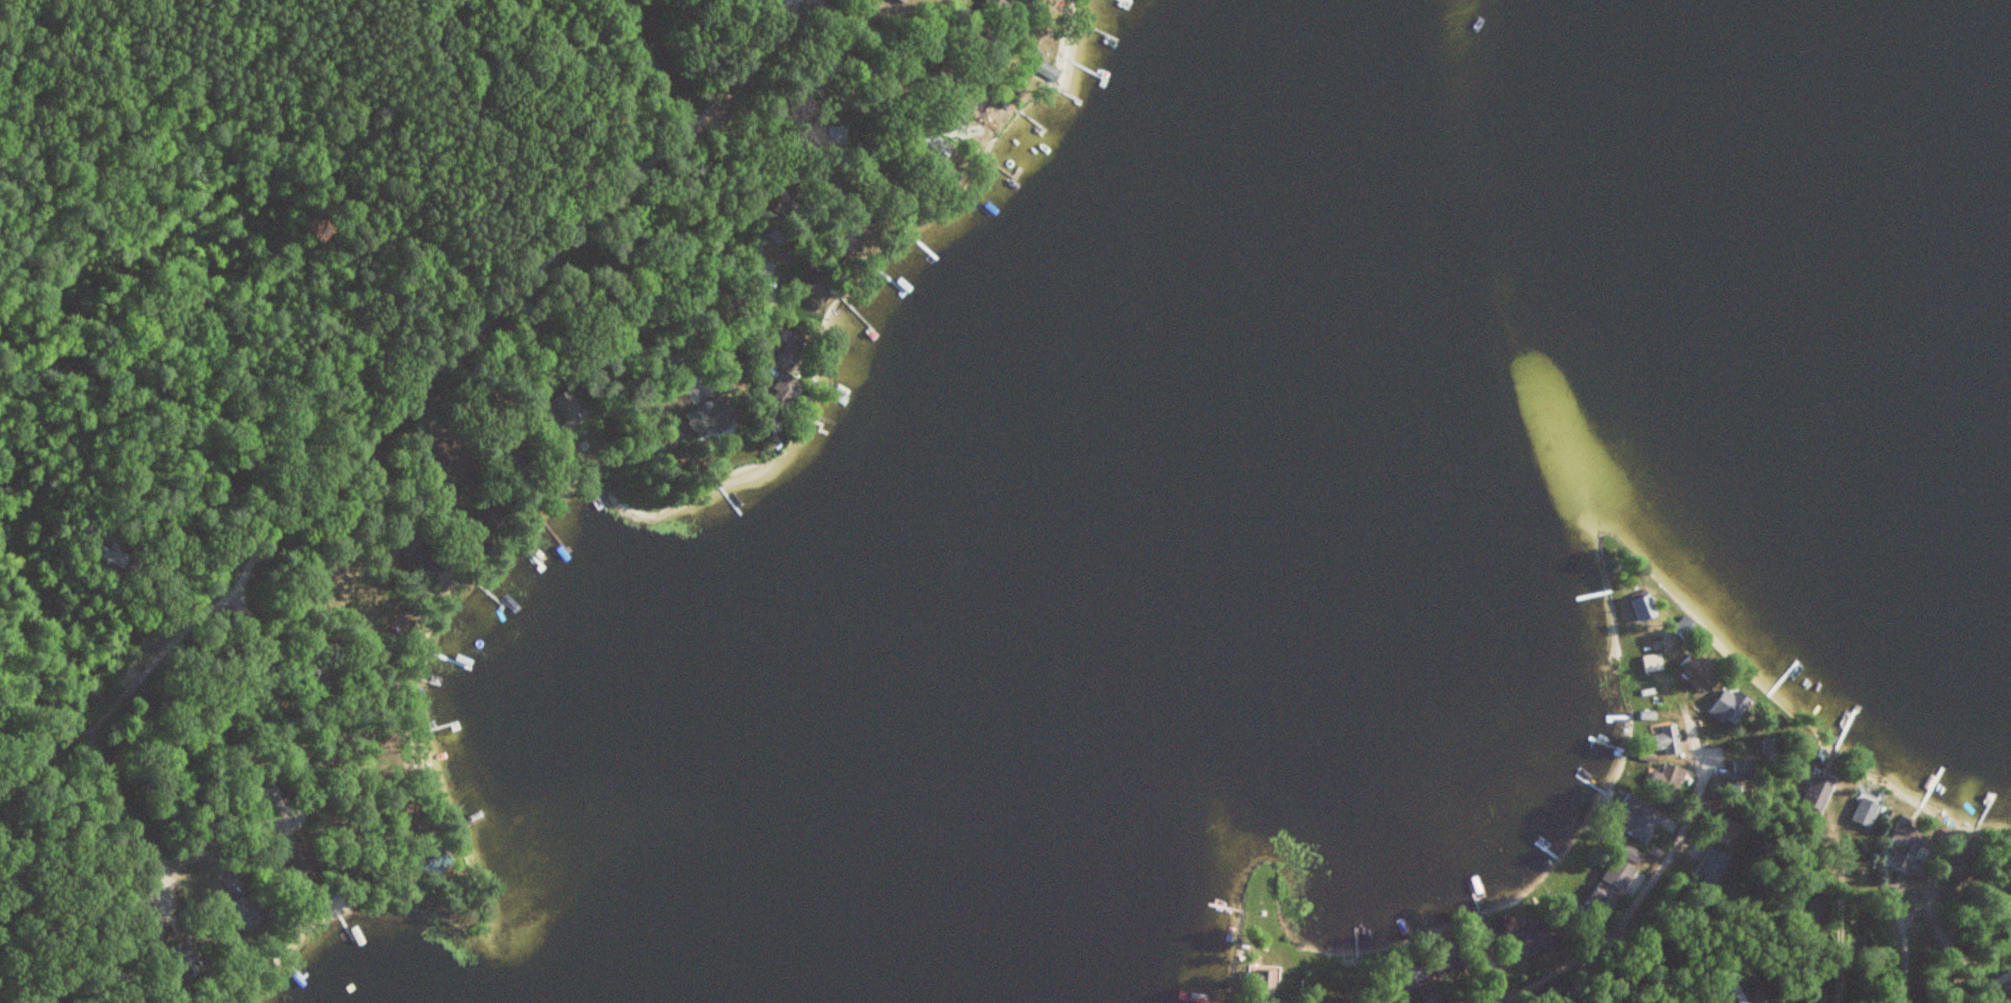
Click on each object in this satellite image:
building: (907, 0)
building: (845, 4)
building: (990, 46)
building: (905, 51)
building: (1048, 69)
building: (935, 146)
road: (759, 190)
road: (722, 258)
building: (820, 282)
building: (787, 344)
road: (453, 354)
building: (782, 396)
building: (572, 404)
building: (720, 415)
building: (447, 451)
building: (487, 519)
building: (422, 554)
building: (118, 555)
building: (1654, 606)
building: (1692, 626)
building: (1661, 661)
building: (1705, 671)
building: (320, 679)
building: (1733, 706)
building: (1673, 738)
building: (1672, 779)
building: (1821, 791)
building: (1867, 811)
building: (1646, 821)
building: (1728, 834)
building: (1909, 836)
building: (303, 857)
building: (1626, 865)
building: (1713, 865)
road: (1652, 870)
building: (1604, 901)
building: (146, 904)
park: (53, 907)
building: (251, 910)
road: (1839, 930)
building: (1540, 937)
road: (1593, 953)
building: (188, 958)
building: (1420, 971)
building: (1267, 985)
road: (21, 987)

